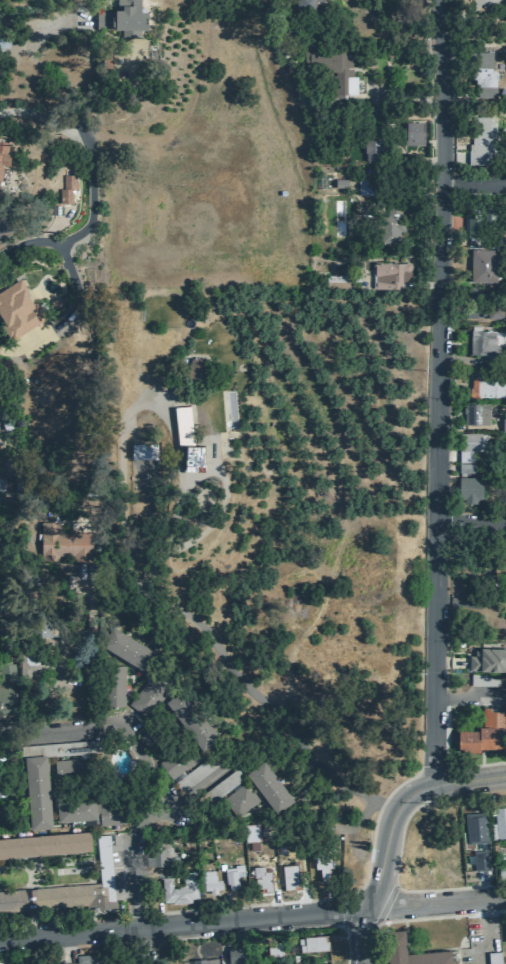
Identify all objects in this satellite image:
park: (43, 0)
building: (505, 1)
building: (304, 5)
road: (66, 13)
building: (123, 17)
building: (4, 43)
building: (330, 68)
building: (482, 71)
road: (399, 96)
road: (49, 122)
building: (405, 135)
building: (481, 141)
building: (372, 148)
building: (3, 151)
building: (339, 182)
road: (470, 183)
building: (366, 187)
building: (66, 188)
building: (0, 191)
building: (477, 221)
building: (389, 222)
road: (80, 236)
building: (482, 265)
building: (395, 276)
building: (493, 311)
building: (20, 313)
road: (68, 319)
building: (485, 342)
building: (197, 367)
building: (480, 386)
road: (427, 393)
building: (475, 412)
building: (183, 423)
building: (503, 423)
road: (118, 434)
building: (467, 445)
building: (144, 451)
building: (194, 457)
building: (469, 468)
building: (5, 484)
building: (469, 489)
road: (472, 525)
building: (63, 542)
building: (501, 570)
road: (470, 602)
building: (43, 624)
building: (125, 647)
building: (488, 659)
road: (239, 680)
building: (487, 680)
building: (112, 685)
building: (150, 690)
parking lot: (481, 691)
building: (10, 692)
road: (465, 700)
building: (191, 719)
road: (68, 729)
building: (483, 733)
building: (154, 735)
building: (174, 762)
building: (68, 770)
building: (198, 771)
building: (45, 777)
road: (470, 781)
building: (267, 786)
building: (217, 788)
building: (239, 798)
building: (76, 809)
building: (112, 813)
building: (500, 821)
building: (479, 828)
building: (252, 833)
building: (45, 844)
road: (137, 844)
building: (164, 852)
building: (320, 860)
building: (484, 860)
road: (384, 863)
building: (505, 868)
building: (231, 874)
building: (289, 875)
building: (261, 877)
building: (209, 881)
road: (396, 887)
road: (486, 887)
building: (68, 889)
building: (177, 891)
road: (438, 904)
road: (257, 919)
road: (476, 932)
road: (72, 933)
building: (393, 938)
building: (313, 943)
road: (68, 947)
building: (275, 949)
building: (238, 954)
building: (493, 957)
building: (96, 958)
building: (199, 961)
building: (325, 963)

